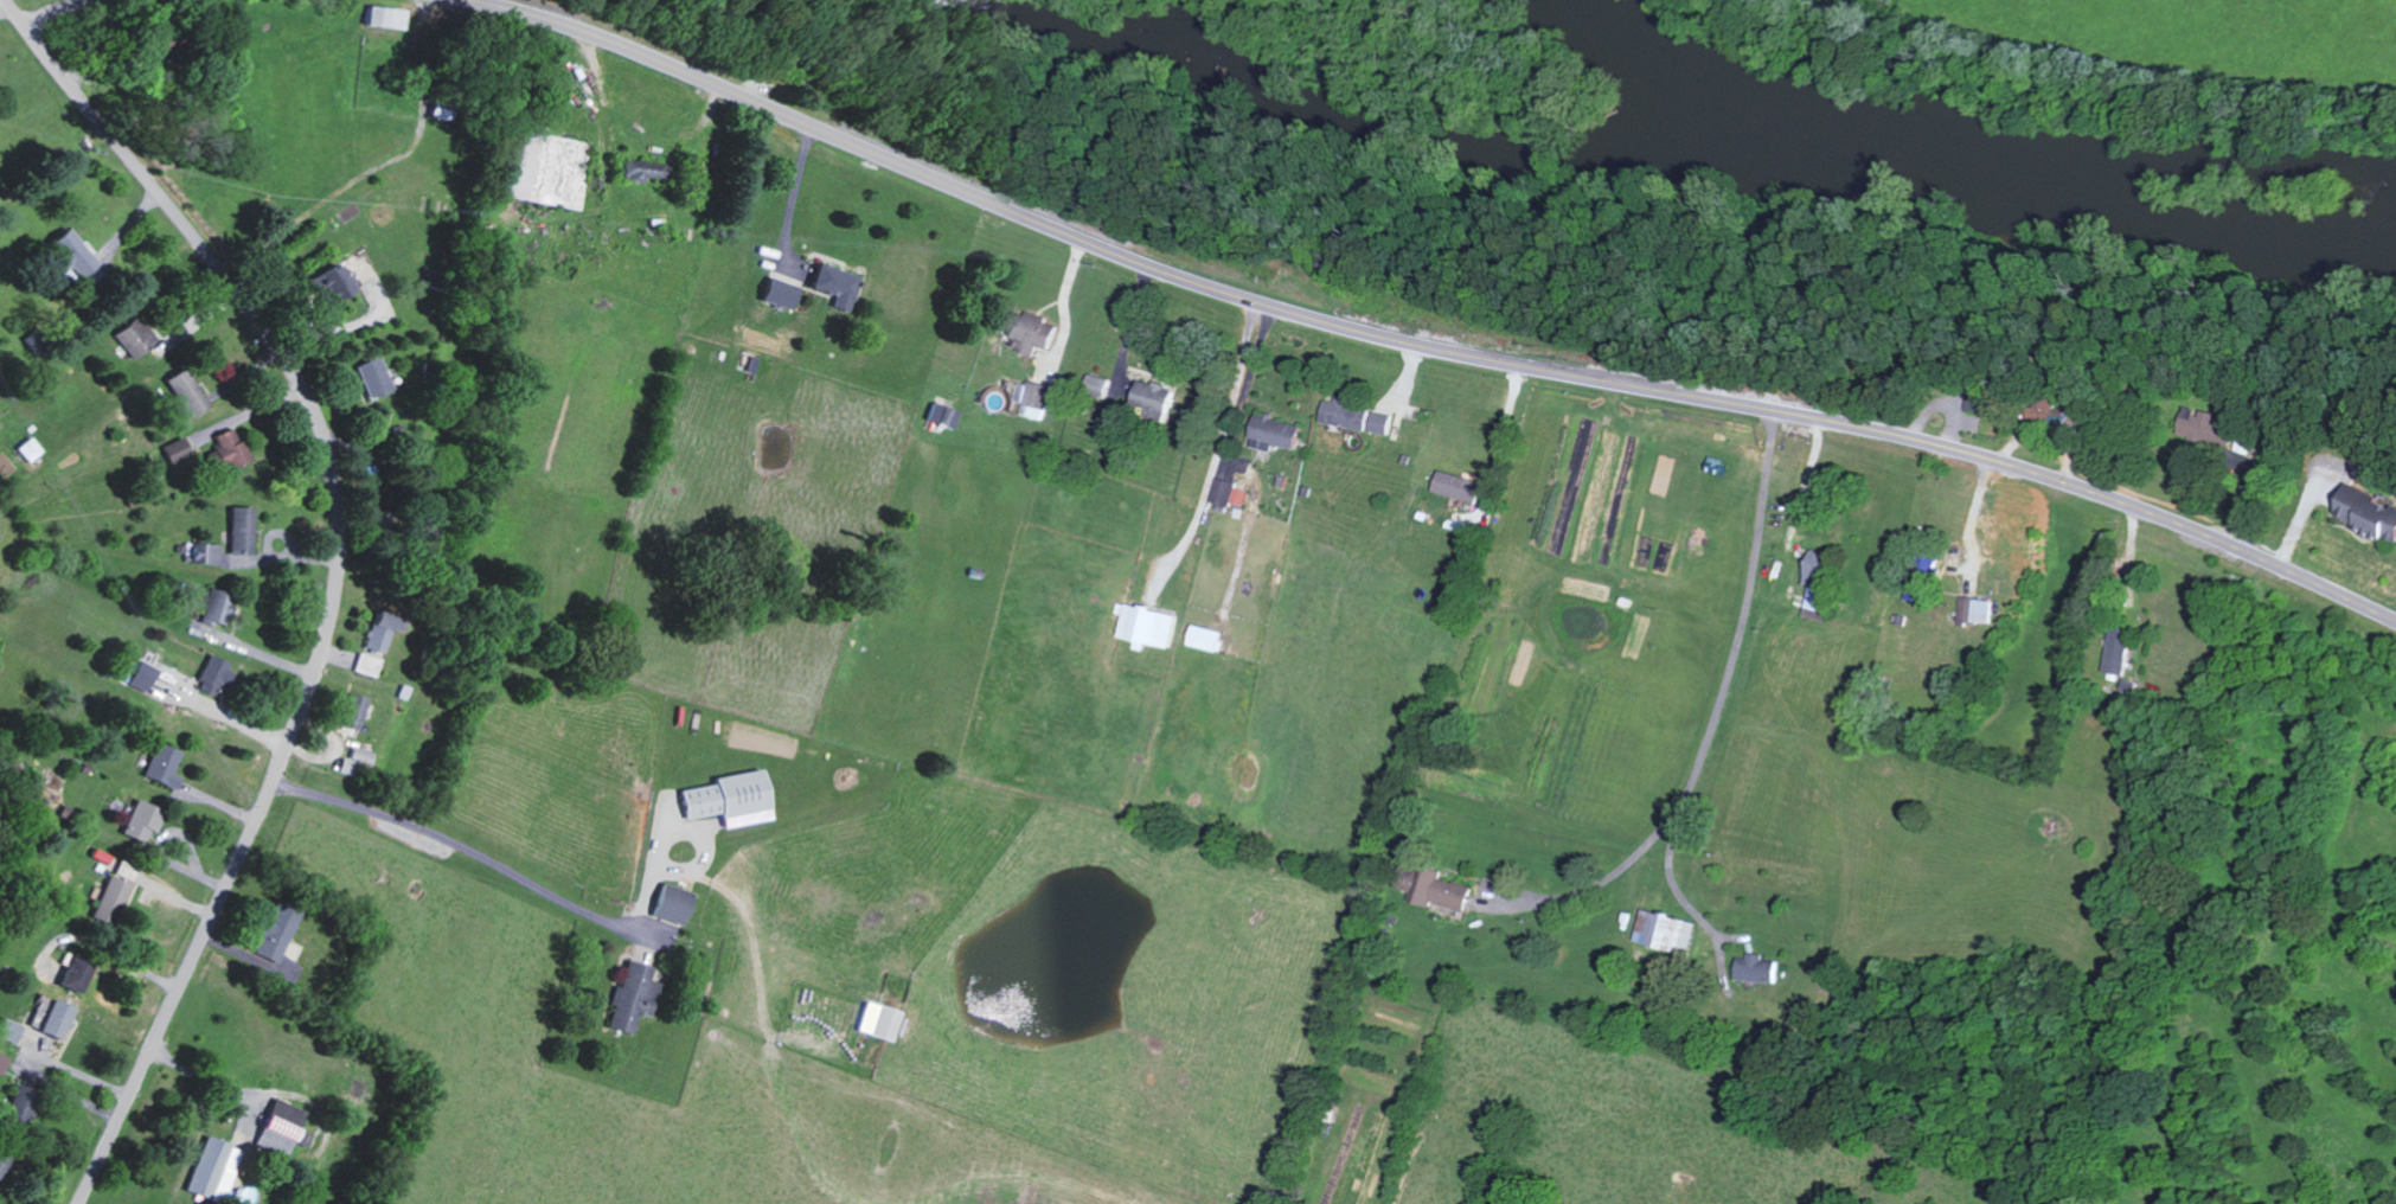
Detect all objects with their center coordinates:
road: (53, 9)
building: (387, 15)
river: (1825, 139)
building: (640, 172)
road: (332, 193)
road: (795, 197)
building: (77, 252)
building: (340, 282)
building: (839, 283)
building: (784, 292)
road: (1064, 299)
building: (1032, 331)
building: (139, 337)
road: (1410, 346)
building: (377, 377)
building: (192, 391)
building: (1159, 396)
building: (1034, 397)
building: (947, 414)
building: (1362, 416)
building: (2211, 425)
building: (1279, 433)
road: (1501, 443)
road: (1218, 447)
building: (33, 448)
building: (233, 448)
building: (180, 450)
road: (1236, 455)
building: (1460, 485)
building: (1231, 492)
building: (2371, 511)
road: (1975, 515)
building: (231, 539)
road: (334, 574)
road: (1776, 577)
building: (1818, 583)
building: (220, 608)
building: (1152, 625)
building: (385, 629)
building: (1212, 636)
building: (2120, 655)
building: (369, 664)
building: (217, 672)
building: (146, 675)
building: (355, 710)
building: (357, 760)
building: (166, 764)
building: (736, 798)
building: (146, 820)
road: (1632, 853)
road: (551, 891)
building: (1453, 892)
road: (1680, 898)
building: (675, 903)
building: (1667, 929)
building: (277, 931)
building: (1760, 968)
building: (636, 995)
building: (59, 1020)
building: (889, 1022)
building: (13, 1030)
road: (218, 1083)
building: (284, 1127)
building: (217, 1166)

